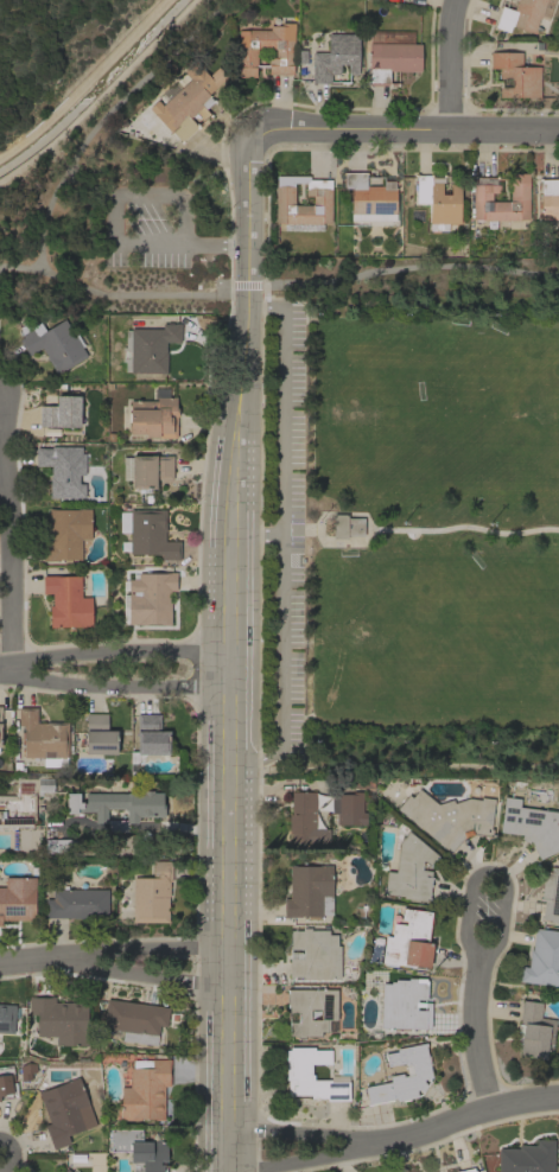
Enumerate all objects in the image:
building: (522, 15)
building: (247, 52)
building: (392, 55)
building: (336, 57)
road: (453, 64)
building: (516, 75)
building: (184, 106)
road: (91, 128)
road: (406, 130)
building: (369, 197)
building: (482, 197)
building: (438, 198)
building: (285, 200)
building: (550, 202)
parking lot: (146, 225)
road: (114, 229)
road: (293, 282)
road: (244, 286)
building: (52, 344)
building: (148, 350)
road: (291, 394)
building: (63, 413)
building: (153, 415)
building: (146, 470)
building: (63, 471)
road: (342, 512)
building: (345, 526)
parking lot: (287, 527)
road: (423, 530)
building: (65, 533)
building: (147, 533)
park: (412, 536)
road: (6, 550)
building: (151, 597)
building: (66, 601)
road: (287, 639)
road: (114, 668)
building: (0, 711)
building: (97, 735)
building: (0, 738)
building: (44, 738)
building: (148, 738)
building: (0, 745)
building: (362, 783)
building: (46, 785)
road: (227, 802)
building: (116, 807)
building: (348, 808)
building: (449, 817)
building: (304, 819)
building: (532, 826)
building: (59, 845)
building: (409, 870)
building: (309, 891)
building: (152, 894)
building: (550, 894)
building: (18, 898)
building: (77, 902)
building: (407, 941)
building: (315, 954)
building: (542, 958)
road: (112, 960)
road: (481, 962)
building: (402, 1004)
building: (329, 1017)
building: (6, 1018)
building: (59, 1019)
building: (135, 1020)
building: (534, 1030)
road: (477, 1036)
building: (26, 1070)
building: (312, 1075)
building: (401, 1076)
building: (6, 1082)
building: (145, 1089)
building: (66, 1110)
road: (393, 1125)
building: (139, 1149)
building: (527, 1158)
building: (466, 1170)
building: (65, 1171)

